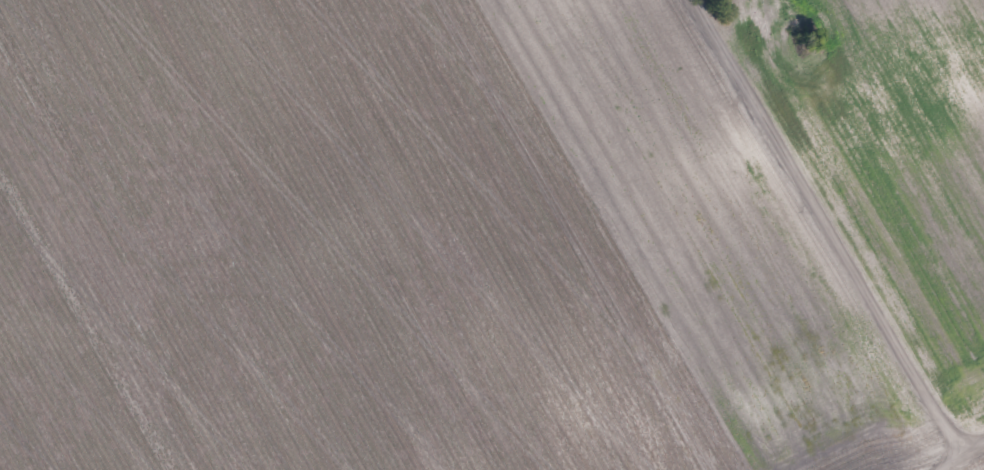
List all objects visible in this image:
road: (831, 226)
road: (958, 455)

